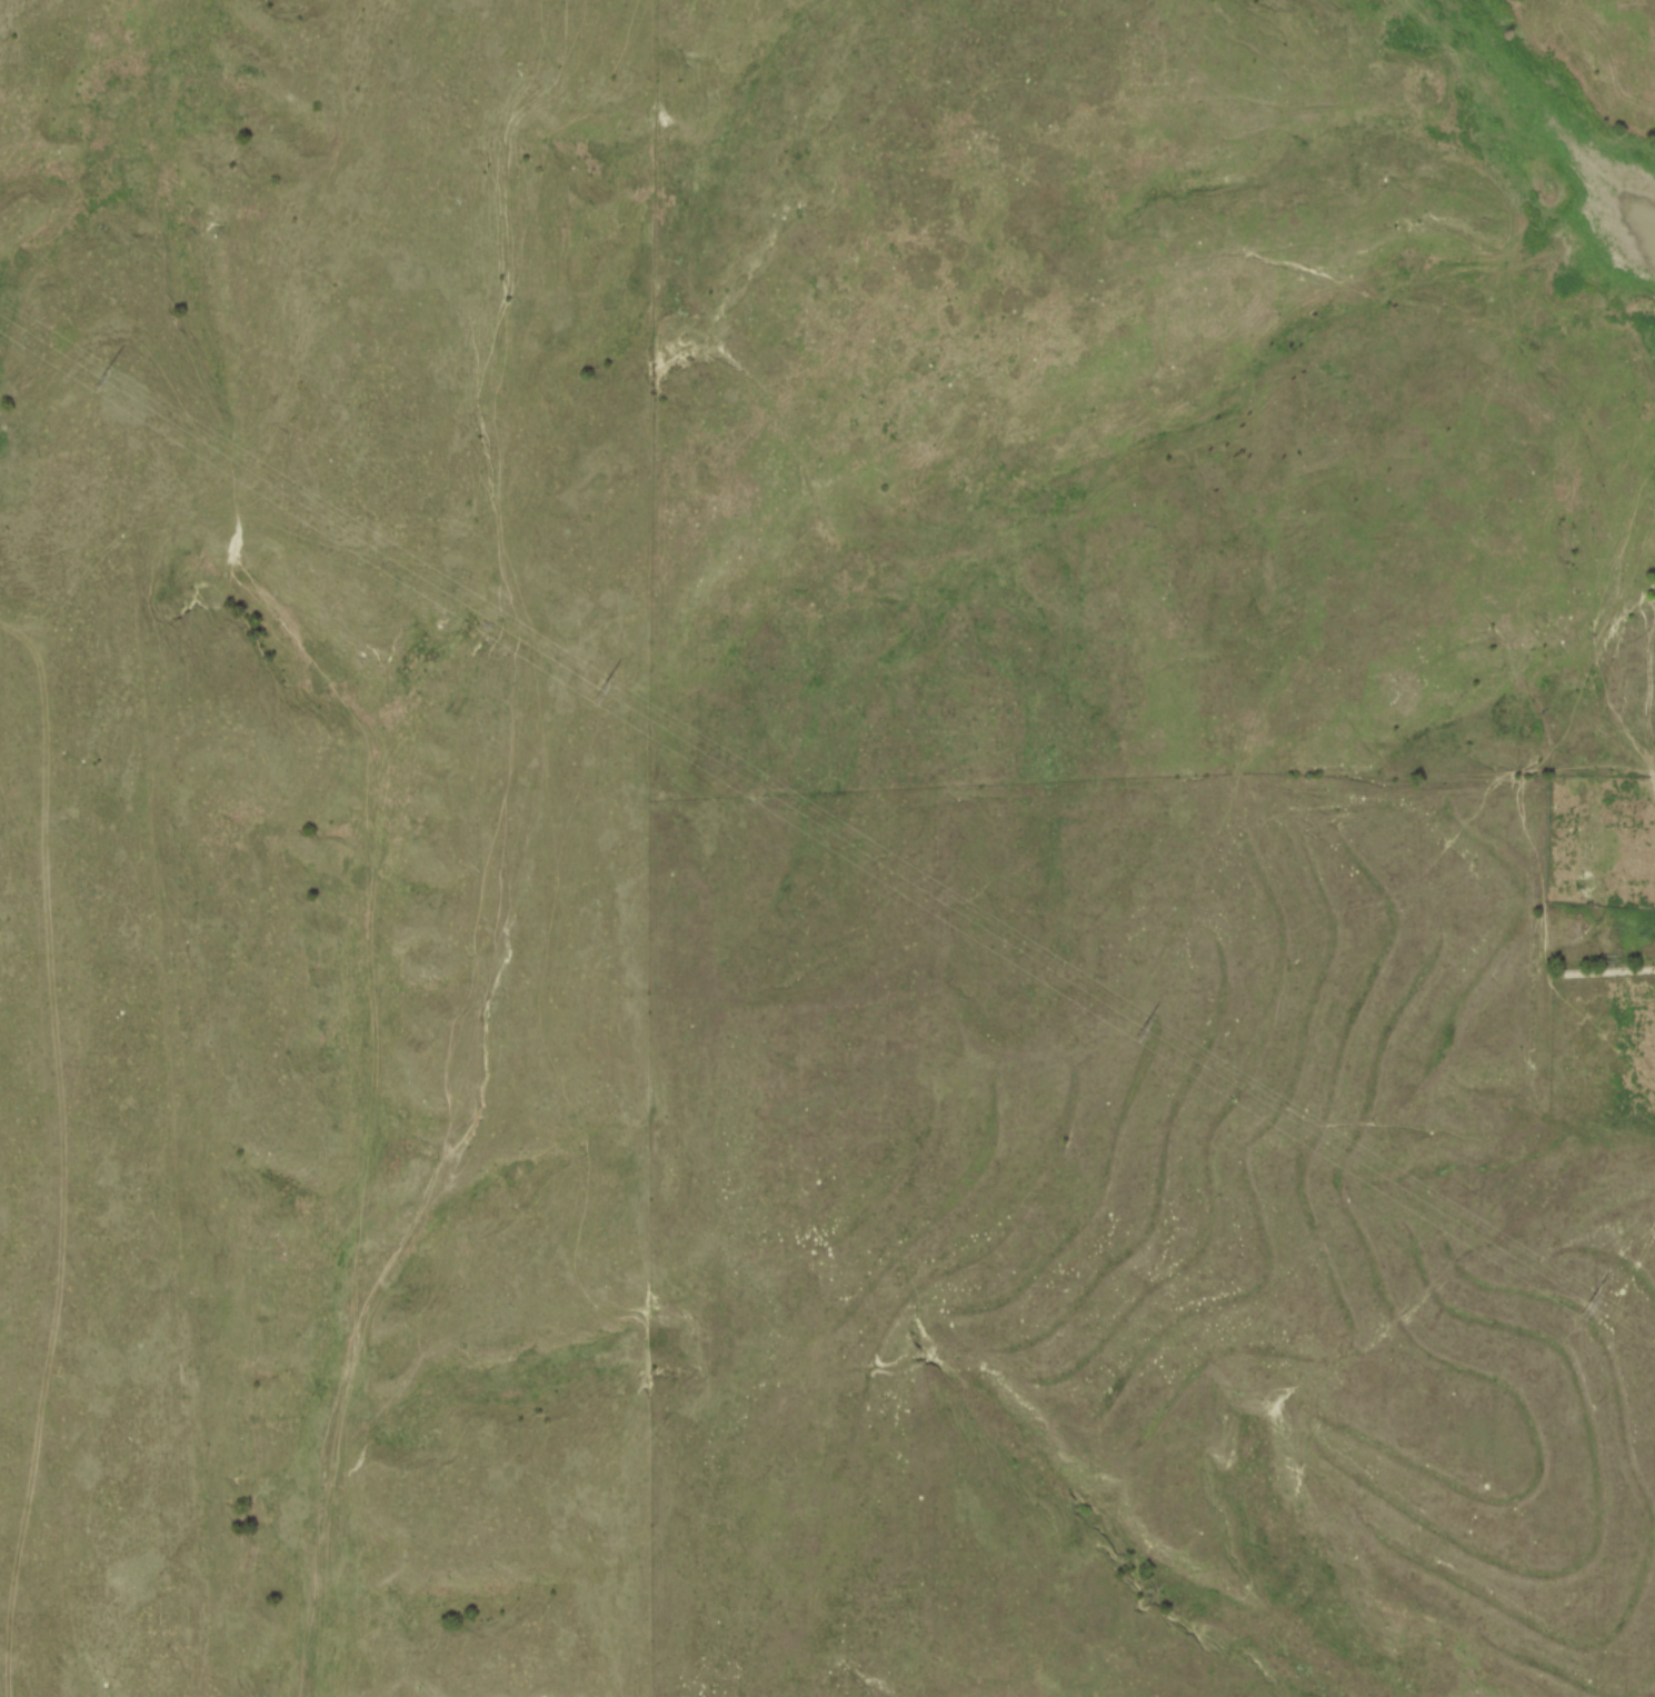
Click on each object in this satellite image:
power tower: (97, 381)
power tower: (596, 692)
power tower: (1138, 1030)
power tower: (1582, 1306)

